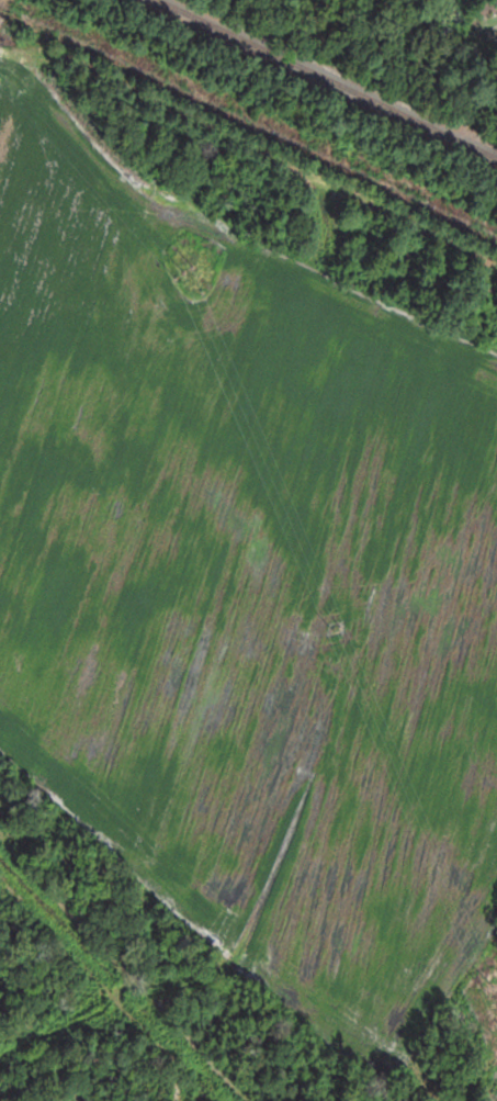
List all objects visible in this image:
railway: (330, 77)
power tower: (188, 272)
power tower: (343, 629)
power tower: (496, 987)

